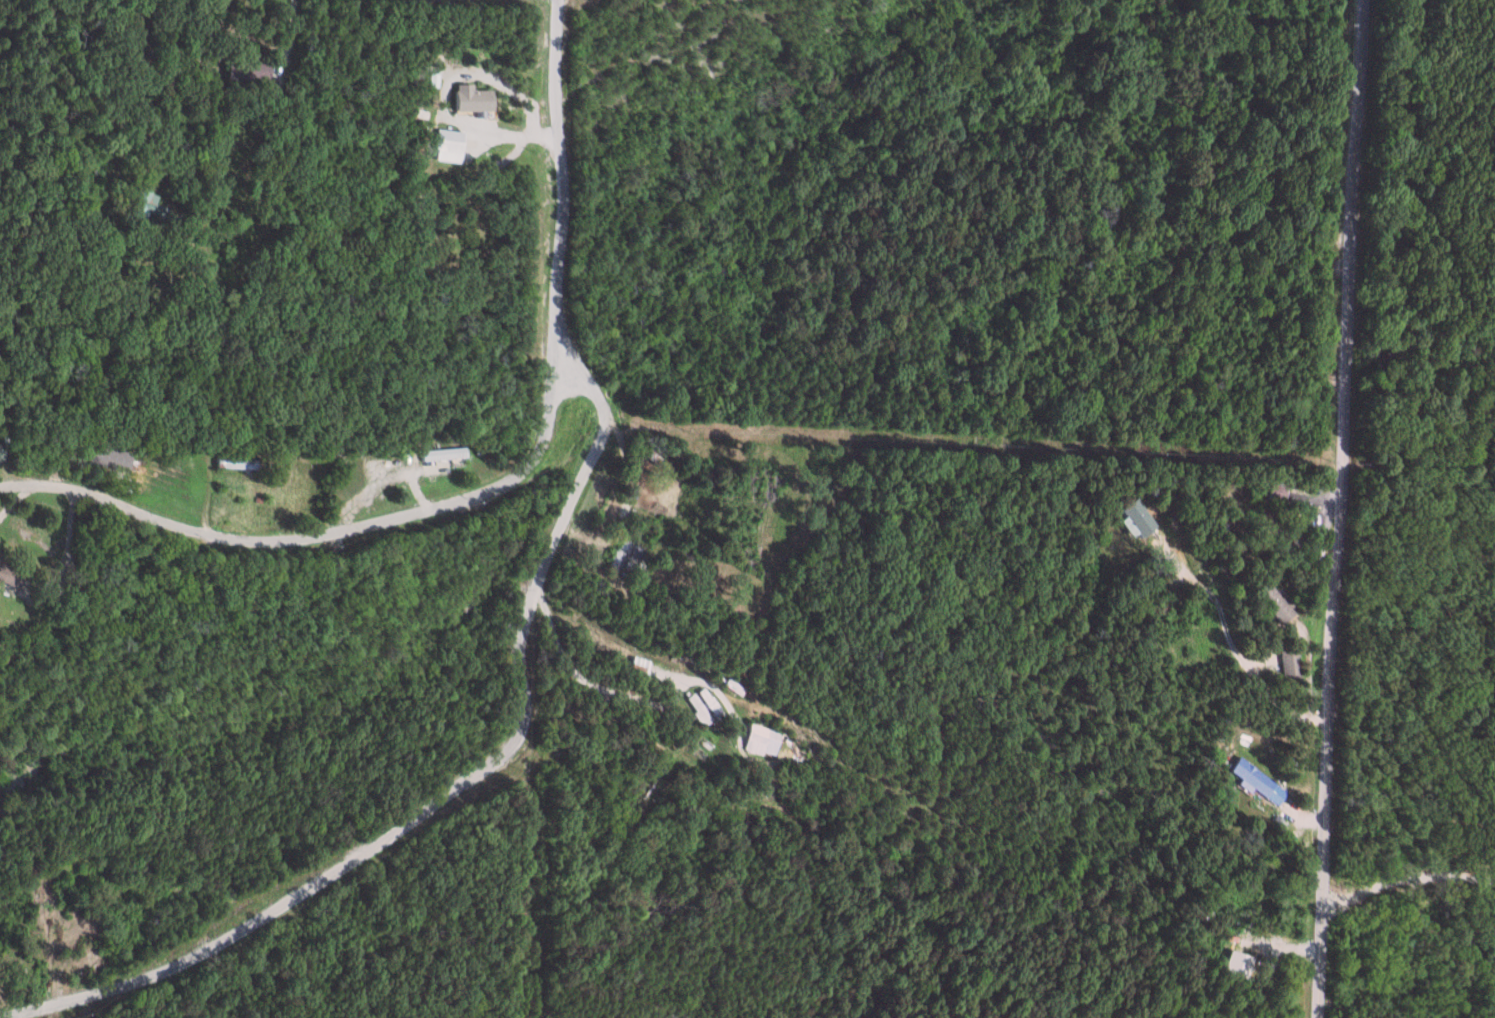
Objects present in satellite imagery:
building: (243, 70)
road: (162, 89)
building: (467, 98)
building: (444, 146)
road: (556, 186)
building: (1, 453)
building: (440, 455)
road: (625, 502)
road: (1333, 508)
building: (1129, 517)
building: (1119, 527)
road: (312, 545)
building: (11, 574)
building: (1269, 602)
road: (1224, 650)
building: (1287, 664)
road: (613, 713)
building: (755, 740)
building: (1251, 782)
road: (445, 789)
building: (1231, 964)

